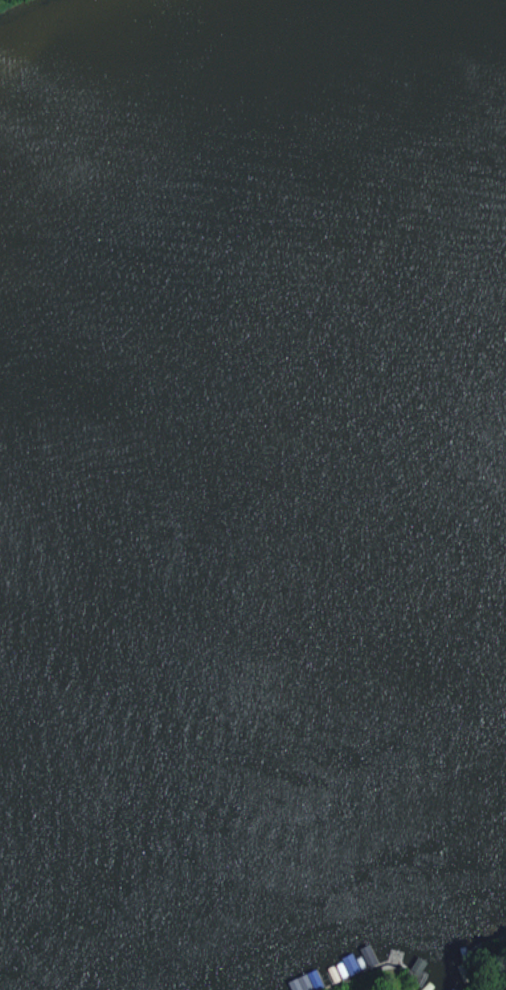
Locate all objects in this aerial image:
river: (270, 539)
building: (305, 981)

